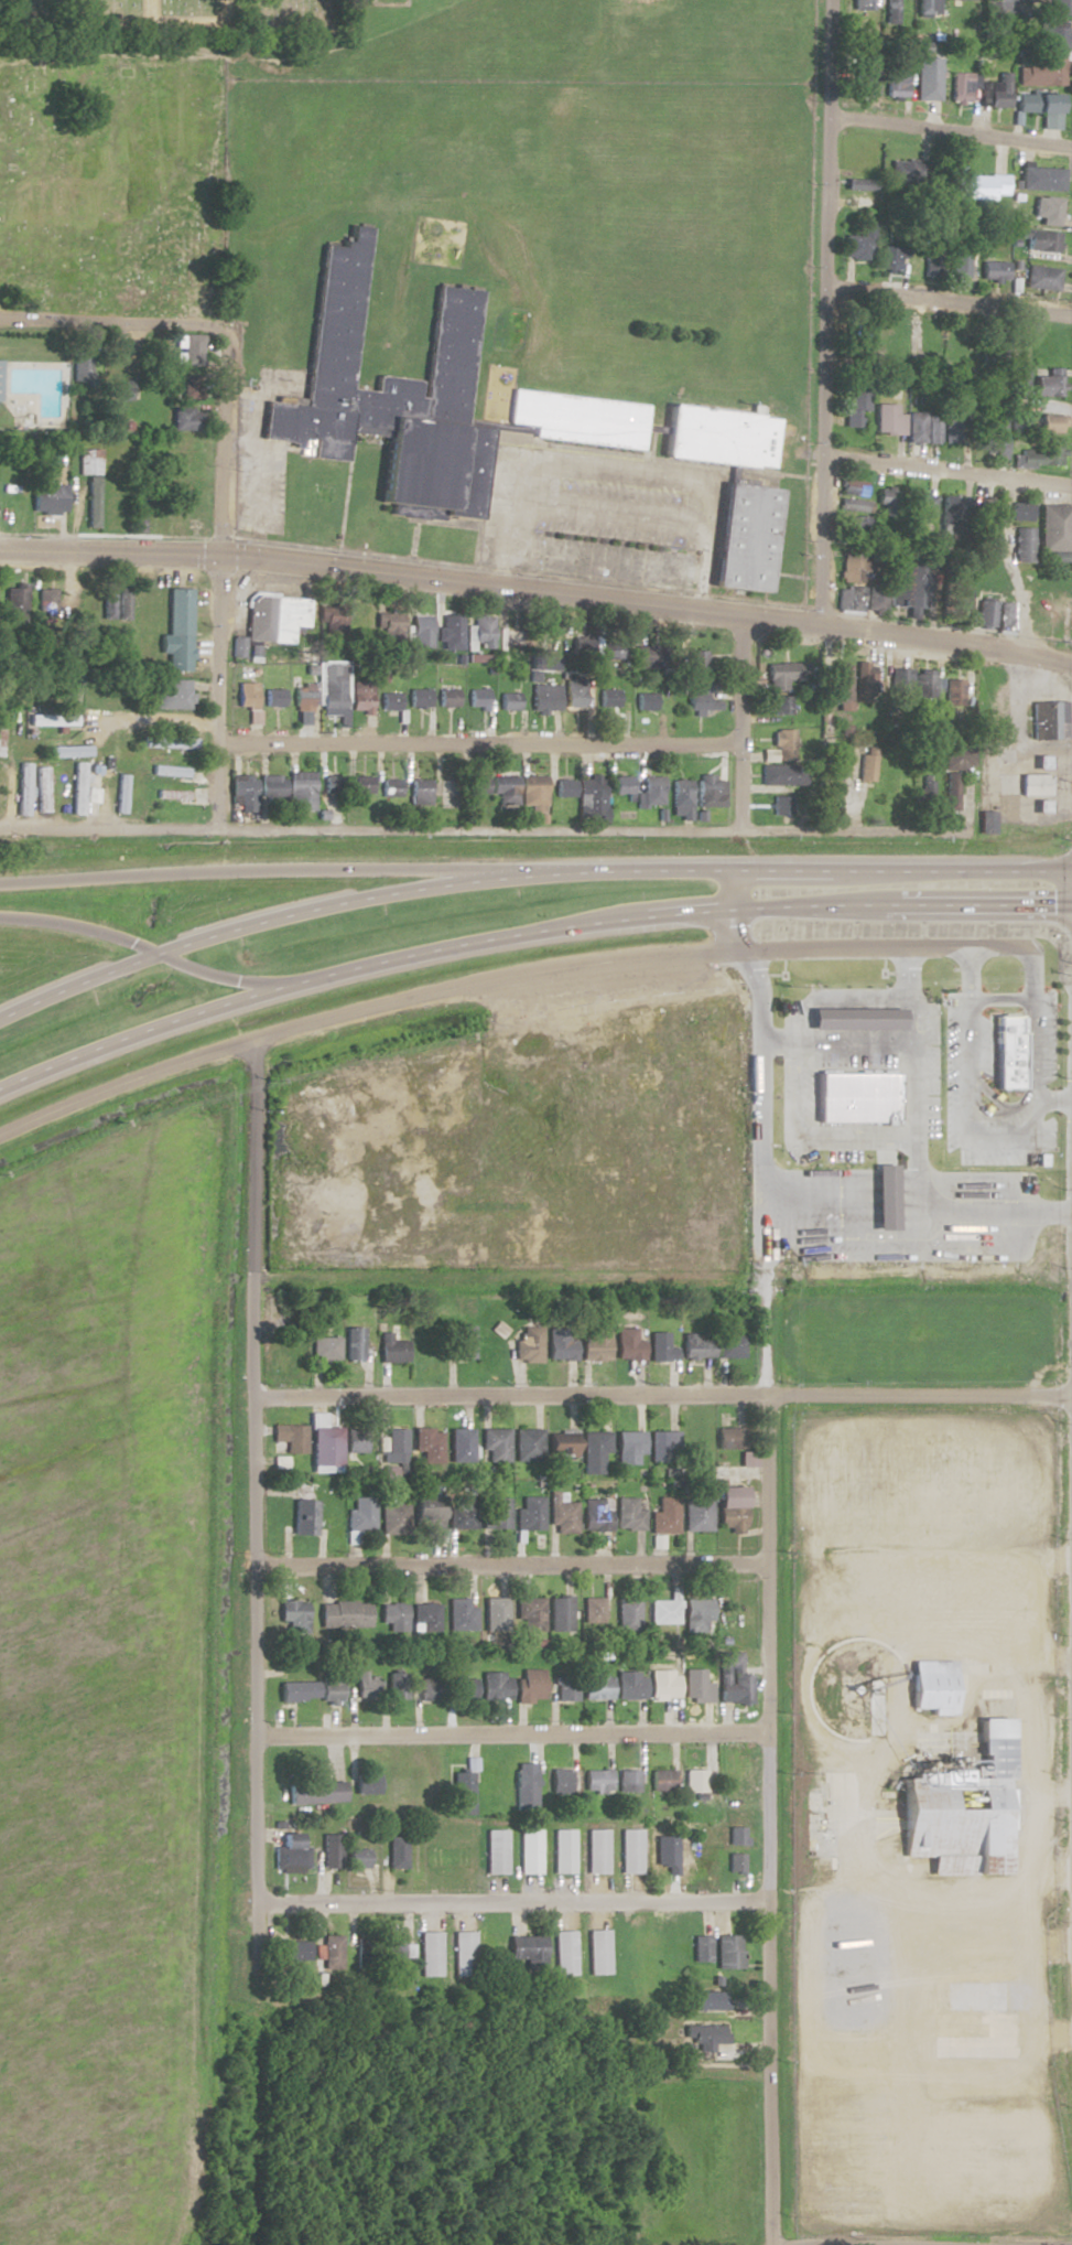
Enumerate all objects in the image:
building: (1037, 0)
building: (1060, 7)
building: (925, 8)
road: (149, 11)
building: (889, 11)
building: (996, 13)
road: (144, 21)
park: (177, 21)
building: (1051, 36)
building: (1040, 69)
building: (925, 78)
building: (867, 82)
building: (895, 83)
building: (959, 86)
building: (994, 92)
building: (1038, 105)
road: (951, 133)
building: (909, 176)
building: (1040, 179)
park: (112, 185)
building: (859, 185)
building: (974, 185)
building: (868, 200)
building: (1047, 211)
building: (1042, 241)
building: (860, 244)
building: (932, 259)
building: (960, 265)
building: (994, 271)
building: (1042, 278)
road: (949, 301)
road: (824, 312)
road: (113, 322)
building: (858, 330)
building: (968, 332)
building: (914, 342)
building: (188, 350)
building: (80, 366)
building: (1049, 384)
building: (1019, 386)
building: (191, 387)
building: (117, 390)
building: (421, 401)
road: (250, 405)
building: (857, 406)
building: (1018, 418)
building: (186, 419)
building: (888, 420)
building: (1051, 423)
building: (916, 427)
building: (931, 427)
building: (953, 427)
road: (654, 429)
building: (716, 437)
building: (993, 438)
road: (583, 450)
parking lot: (264, 452)
building: (1041, 455)
building: (89, 462)
road: (608, 464)
road: (946, 470)
road: (261, 481)
building: (854, 488)
road: (347, 492)
building: (48, 498)
building: (889, 501)
building: (111, 502)
building: (93, 503)
road: (604, 505)
building: (847, 505)
building: (921, 507)
building: (987, 508)
building: (1021, 512)
building: (138, 515)
parking lot: (599, 517)
building: (952, 518)
road: (600, 522)
road: (447, 524)
building: (852, 528)
building: (1054, 528)
road: (414, 538)
building: (744, 538)
building: (989, 541)
building: (1024, 545)
road: (354, 552)
road: (597, 557)
building: (854, 565)
building: (997, 572)
road: (786, 574)
building: (908, 587)
road: (639, 589)
road: (537, 590)
building: (878, 598)
building: (956, 598)
building: (852, 599)
road: (220, 601)
building: (15, 603)
building: (94, 603)
building: (109, 603)
building: (124, 603)
building: (180, 612)
building: (986, 614)
building: (1005, 615)
building: (275, 621)
building: (333, 622)
building: (380, 623)
building: (420, 631)
building: (452, 633)
building: (483, 633)
building: (515, 636)
building: (582, 643)
building: (239, 648)
building: (614, 649)
building: (647, 656)
building: (697, 660)
building: (784, 675)
building: (841, 683)
building: (865, 683)
building: (334, 686)
building: (900, 686)
building: (925, 686)
building: (954, 692)
building: (575, 694)
building: (172, 695)
building: (248, 695)
building: (303, 696)
building: (362, 697)
building: (274, 698)
building: (420, 698)
building: (448, 698)
building: (509, 698)
building: (545, 698)
building: (609, 698)
building: (478, 699)
building: (701, 700)
building: (391, 701)
building: (646, 701)
building: (781, 705)
building: (54, 720)
building: (1049, 720)
road: (145, 722)
building: (869, 722)
road: (734, 724)
building: (1, 735)
building: (174, 742)
building: (116, 745)
road: (476, 745)
building: (781, 746)
building: (68, 751)
building: (838, 756)
building: (959, 758)
building: (1041, 762)
building: (866, 764)
building: (171, 770)
building: (777, 778)
building: (505, 782)
building: (333, 783)
building: (359, 784)
building: (478, 784)
building: (622, 784)
building: (1033, 784)
gas station: (1033, 784)
building: (1059, 784)
building: (565, 786)
building: (85, 787)
building: (272, 787)
building: (391, 787)
building: (24, 788)
building: (44, 788)
building: (138, 788)
building: (2, 789)
building: (243, 789)
building: (302, 789)
building: (650, 789)
building: (421, 791)
building: (711, 791)
building: (951, 791)
building: (450, 792)
building: (122, 793)
building: (534, 793)
building: (174, 794)
building: (925, 794)
building: (592, 797)
building: (682, 798)
building: (779, 804)
building: (1042, 806)
building: (987, 821)
road: (447, 827)
road: (524, 869)
road: (253, 871)
road: (524, 933)
road: (153, 954)
road: (979, 968)
road: (505, 980)
road: (1031, 1023)
building: (694, 1039)
road: (982, 1044)
building: (1009, 1049)
road: (761, 1156)
road: (638, 1172)
building: (814, 1209)
building: (530, 1234)
building: (957, 1248)
building: (463, 1341)
building: (354, 1342)
building: (528, 1343)
building: (561, 1343)
building: (595, 1344)
building: (627, 1344)
building: (660, 1346)
building: (695, 1346)
building: (730, 1346)
building: (325, 1347)
building: (392, 1350)
road: (660, 1399)
building: (290, 1437)
building: (729, 1437)
building: (355, 1440)
building: (495, 1443)
building: (561, 1443)
building: (396, 1444)
building: (427, 1444)
building: (459, 1444)
building: (527, 1444)
building: (662, 1446)
building: (628, 1447)
building: (594, 1452)
building: (747, 1458)
road: (248, 1473)
building: (730, 1507)
building: (699, 1511)
building: (426, 1512)
building: (462, 1512)
building: (495, 1513)
building: (529, 1513)
building: (562, 1513)
building: (360, 1514)
building: (596, 1514)
building: (628, 1514)
building: (664, 1515)
building: (304, 1516)
building: (392, 1517)
road: (936, 1553)
road: (506, 1565)
building: (696, 1608)
building: (593, 1611)
building: (662, 1611)
building: (495, 1613)
building: (530, 1613)
building: (560, 1613)
building: (627, 1613)
building: (293, 1614)
building: (344, 1614)
building: (461, 1614)
building: (393, 1615)
building: (426, 1618)
building: (733, 1678)
building: (663, 1684)
building: (366, 1685)
building: (397, 1685)
building: (495, 1685)
building: (530, 1685)
building: (596, 1685)
building: (629, 1685)
building: (696, 1686)
building: (932, 1686)
building: (431, 1688)
building: (463, 1688)
building: (565, 1688)
building: (310, 1690)
road: (505, 1736)
building: (661, 1780)
building: (560, 1781)
building: (596, 1781)
building: (628, 1781)
building: (694, 1781)
building: (366, 1783)
building: (524, 1790)
building: (315, 1792)
building: (462, 1793)
building: (960, 1807)
road: (764, 1823)
building: (668, 1848)
building: (331, 1850)
building: (563, 1850)
building: (597, 1850)
building: (630, 1850)
building: (397, 1851)
building: (496, 1851)
building: (529, 1851)
building: (291, 1855)
building: (356, 1858)
road: (503, 1901)
building: (701, 1948)
building: (528, 1949)
building: (291, 1951)
building: (727, 1951)
building: (332, 1952)
building: (564, 1952)
building: (598, 1952)
building: (393, 1953)
building: (431, 1954)
building: (464, 1954)
building: (710, 2000)
building: (971, 2007)
building: (707, 2037)

